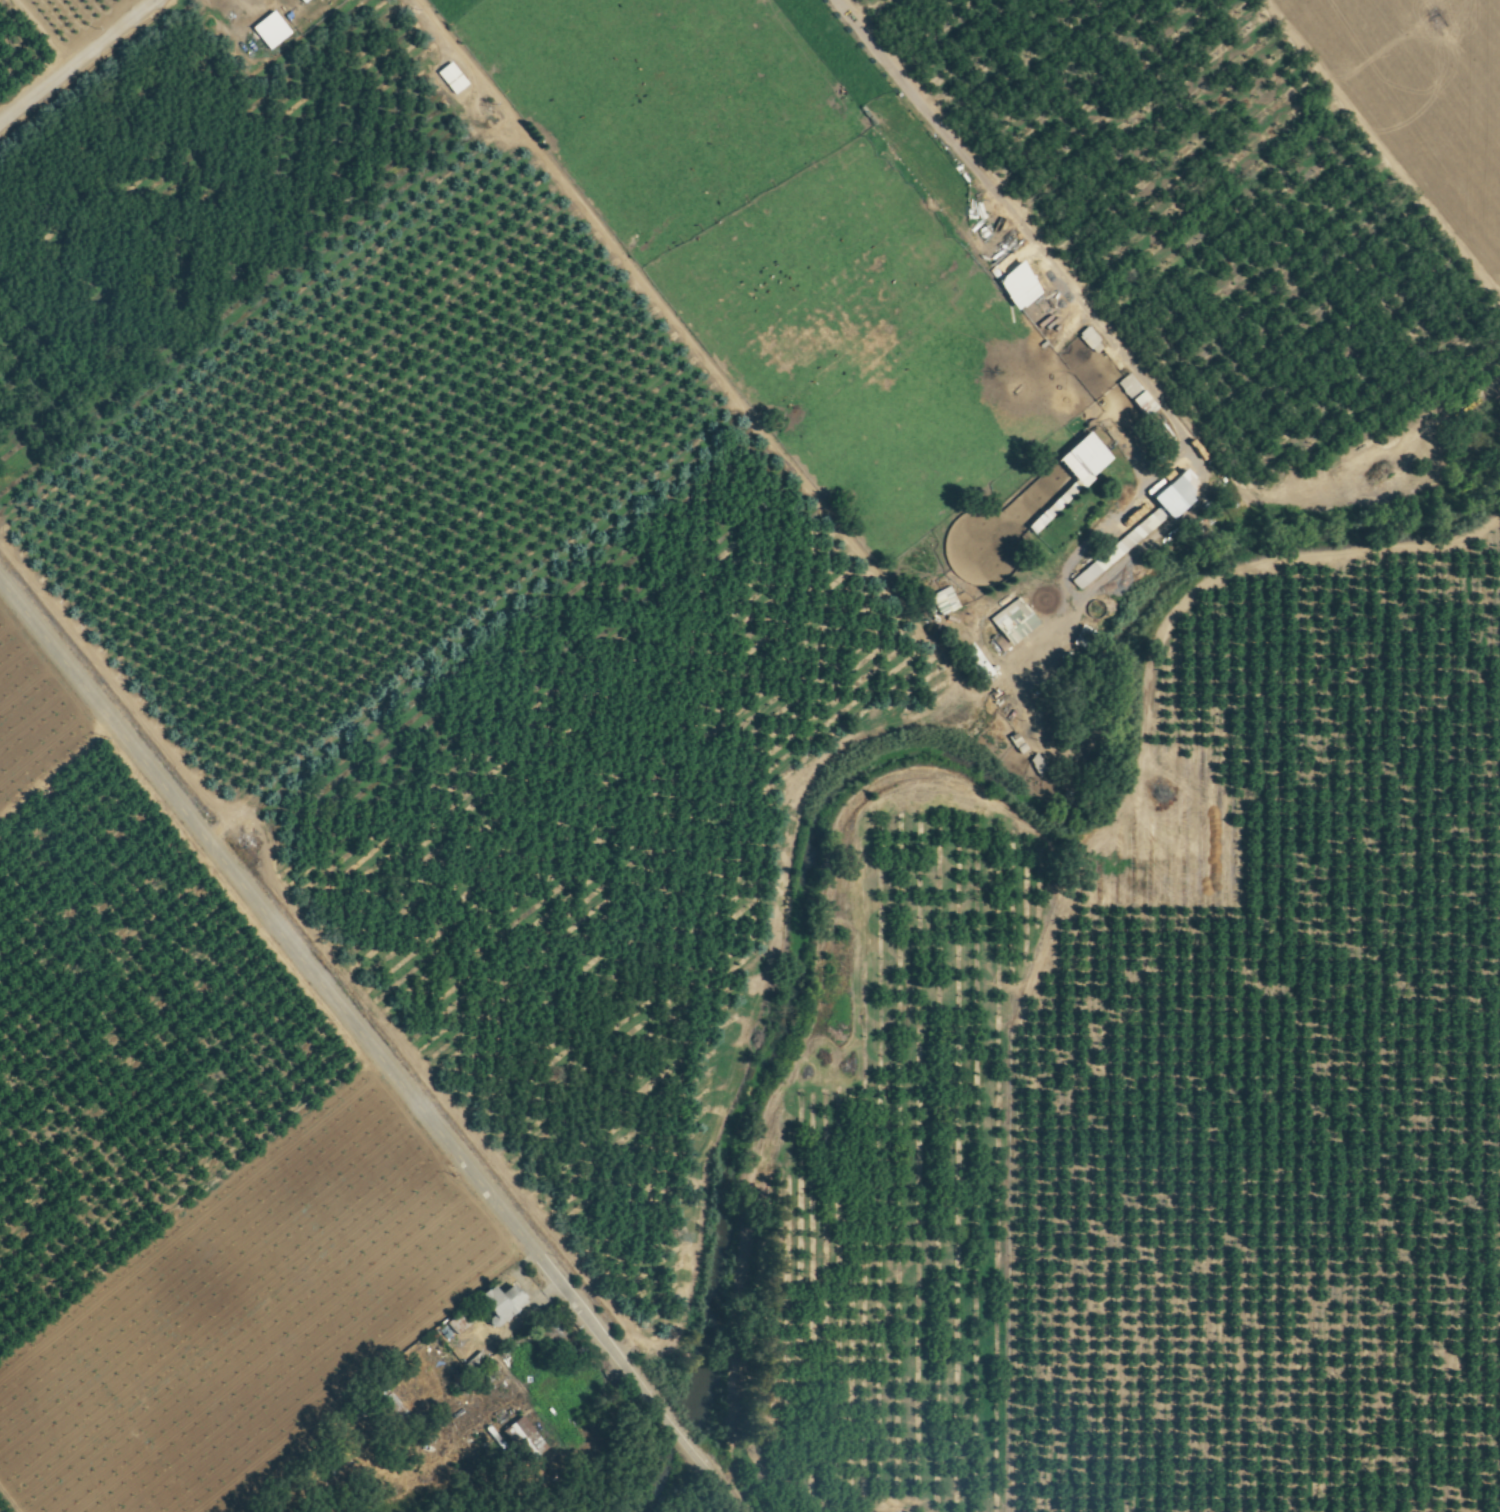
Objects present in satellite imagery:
building: (298, 1)
building: (267, 30)
road: (66, 51)
building: (1087, 340)
building: (1133, 395)
building: (1079, 458)
building: (1036, 519)
building: (1082, 575)
building: (1009, 623)
building: (971, 661)
road: (368, 1027)
building: (495, 1302)
building: (522, 1437)

